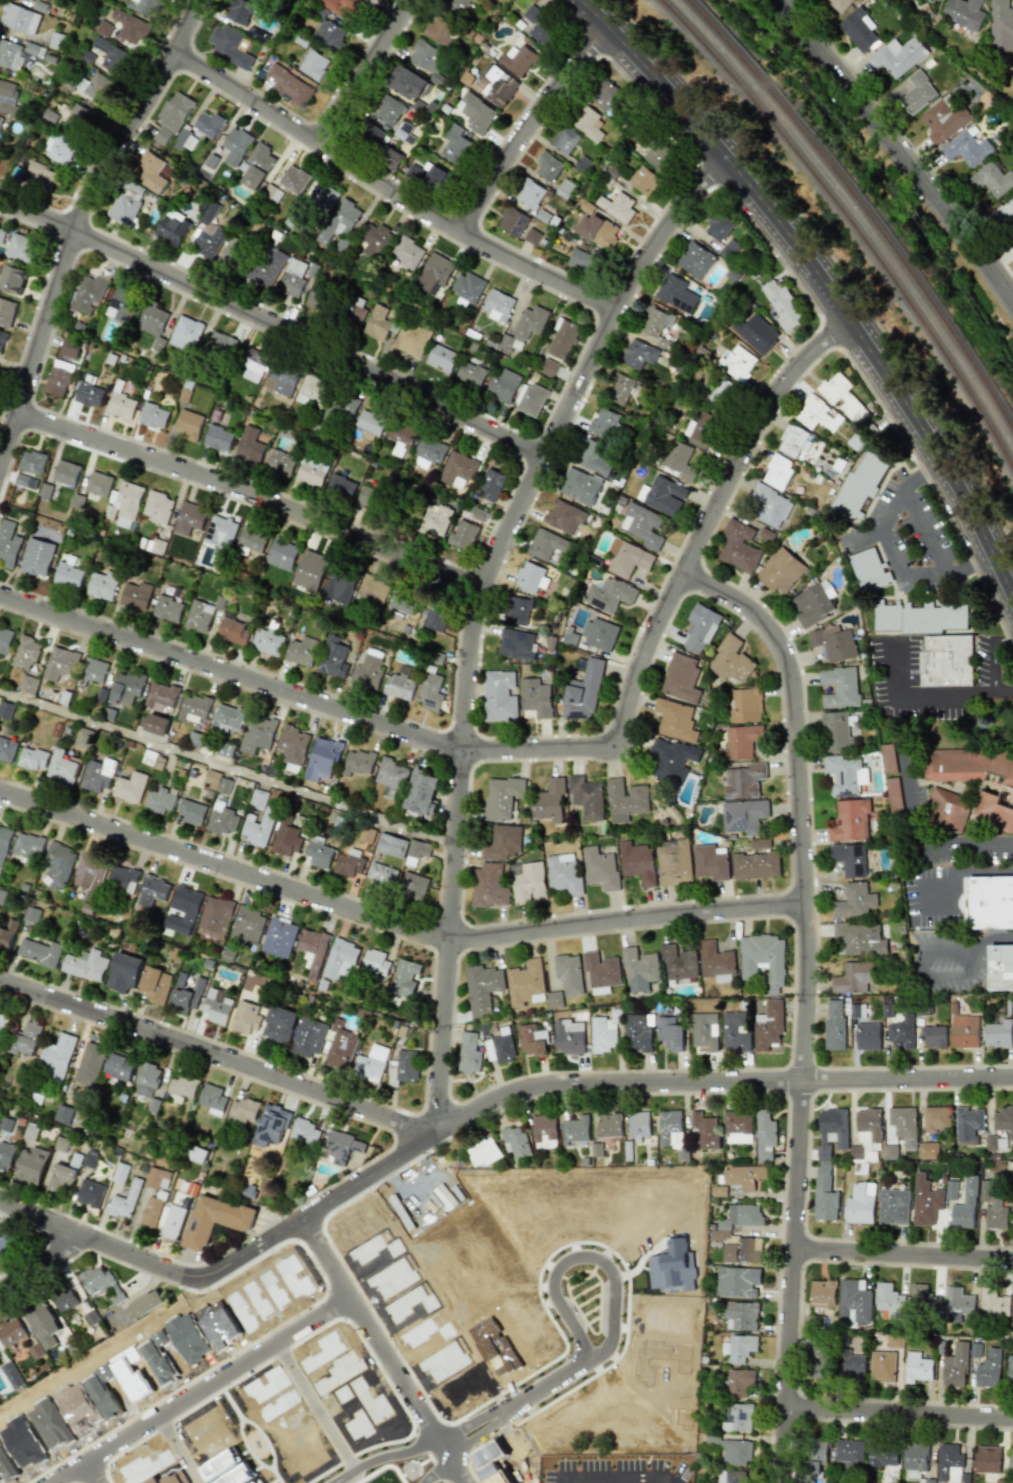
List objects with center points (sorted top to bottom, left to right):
building: (29, 0)
building: (838, 4)
building: (457, 5)
building: (340, 6)
building: (145, 7)
building: (242, 11)
building: (963, 12)
building: (1000, 15)
building: (19, 18)
building: (539, 25)
building: (130, 27)
building: (858, 28)
building: (439, 29)
building: (328, 34)
building: (229, 46)
building: (15, 54)
building: (112, 56)
building: (427, 56)
building: (897, 56)
building: (517, 60)
building: (313, 65)
road: (363, 71)
building: (407, 83)
building: (289, 86)
building: (500, 86)
building: (96, 87)
building: (916, 92)
building: (605, 95)
building: (7, 97)
building: (388, 110)
building: (476, 113)
building: (171, 117)
building: (76, 118)
building: (943, 118)
building: (0, 119)
building: (208, 124)
building: (588, 124)
road: (528, 127)
building: (402, 131)
building: (371, 135)
building: (181, 139)
building: (565, 140)
building: (236, 145)
building: (455, 145)
building: (59, 148)
building: (965, 148)
road: (897, 149)
building: (658, 156)
building: (390, 158)
building: (257, 166)
building: (548, 166)
building: (149, 172)
building: (42, 174)
building: (430, 176)
building: (293, 179)
building: (991, 179)
building: (643, 180)
railway: (873, 183)
road: (388, 189)
building: (530, 194)
building: (324, 196)
building: (127, 204)
railway: (862, 205)
building: (617, 206)
building: (1004, 212)
building: (339, 221)
building: (513, 221)
railway: (854, 221)
road: (82, 222)
building: (717, 225)
building: (170, 231)
building: (605, 234)
building: (533, 236)
building: (375, 241)
building: (211, 242)
building: (20, 248)
building: (407, 252)
building: (234, 253)
building: (585, 260)
building: (695, 260)
building: (438, 268)
building: (265, 270)
building: (292, 278)
building: (12, 279)
road: (825, 283)
building: (467, 287)
building: (676, 293)
building: (88, 296)
building: (318, 298)
building: (121, 304)
building: (782, 304)
building: (497, 305)
building: (6, 311)
building: (356, 314)
building: (152, 319)
building: (654, 322)
building: (377, 323)
road: (273, 325)
building: (529, 325)
building: (185, 332)
building: (412, 338)
building: (760, 338)
building: (2, 339)
building: (562, 339)
building: (220, 344)
building: (69, 348)
building: (638, 354)
building: (441, 358)
road: (587, 362)
building: (736, 364)
building: (253, 366)
building: (548, 367)
building: (470, 374)
building: (58, 378)
building: (281, 380)
building: (503, 386)
building: (311, 389)
building: (619, 389)
building: (89, 392)
building: (720, 393)
building: (842, 398)
building: (530, 399)
building: (121, 406)
building: (342, 408)
building: (817, 415)
building: (153, 416)
building: (370, 422)
building: (603, 423)
building: (189, 424)
building: (701, 428)
building: (400, 437)
building: (218, 438)
building: (793, 441)
building: (249, 446)
building: (429, 451)
building: (594, 458)
building: (679, 461)
building: (32, 462)
building: (281, 462)
building: (312, 470)
building: (457, 470)
building: (66, 472)
building: (777, 472)
building: (26, 480)
building: (98, 484)
building: (490, 485)
building: (860, 485)
building: (579, 486)
building: (340, 487)
road: (251, 493)
building: (662, 495)
building: (368, 497)
building: (769, 506)
building: (158, 507)
building: (563, 516)
building: (188, 518)
road: (709, 518)
building: (436, 520)
building: (643, 525)
road: (928, 530)
building: (221, 531)
building: (464, 535)
building: (252, 538)
building: (9, 543)
building: (549, 546)
building: (739, 546)
building: (155, 547)
building: (281, 554)
road: (889, 554)
building: (38, 557)
building: (628, 558)
building: (310, 570)
building: (869, 570)
building: (780, 571)
building: (68, 572)
building: (531, 577)
building: (103, 585)
building: (339, 585)
building: (371, 590)
building: (609, 594)
building: (136, 595)
building: (403, 600)
building: (812, 603)
building: (168, 608)
building: (518, 611)
building: (199, 616)
building: (918, 617)
building: (435, 618)
building: (700, 629)
building: (234, 632)
building: (600, 634)
building: (6, 640)
building: (267, 642)
building: (833, 642)
building: (517, 644)
building: (302, 651)
building: (27, 652)
building: (333, 658)
building: (731, 660)
building: (945, 661)
building: (61, 663)
road: (467, 666)
building: (95, 670)
building: (369, 670)
road: (229, 671)
parking lot: (892, 671)
building: (682, 678)
building: (29, 684)
building: (400, 684)
building: (127, 687)
building: (840, 687)
building: (429, 692)
building: (584, 692)
road: (960, 694)
building: (161, 696)
building: (499, 696)
building: (536, 697)
building: (745, 705)
building: (194, 708)
building: (7, 710)
building: (227, 718)
building: (676, 720)
building: (156, 724)
building: (836, 732)
building: (258, 734)
building: (84, 738)
building: (742, 741)
building: (292, 744)
building: (8, 749)
road: (538, 749)
building: (34, 759)
building: (322, 759)
building: (888, 759)
building: (357, 762)
building: (667, 763)
road: (226, 766)
building: (971, 767)
building: (391, 774)
building: (845, 774)
building: (98, 775)
building: (744, 780)
building: (217, 781)
building: (131, 788)
building: (421, 792)
building: (502, 797)
building: (587, 797)
building: (258, 799)
building: (626, 800)
building: (159, 801)
building: (549, 801)
building: (948, 810)
building: (992, 810)
building: (192, 812)
building: (744, 816)
building: (849, 820)
building: (223, 821)
building: (258, 826)
building: (366, 834)
building: (286, 836)
building: (4, 842)
building: (503, 842)
building: (760, 843)
building: (391, 845)
building: (28, 846)
road: (922, 849)
building: (416, 851)
building: (318, 852)
building: (849, 859)
building: (674, 861)
building: (638, 862)
building: (710, 862)
building: (60, 864)
building: (349, 864)
building: (755, 865)
building: (600, 868)
road: (981, 871)
building: (563, 873)
building: (381, 874)
building: (91, 876)
building: (123, 879)
building: (528, 883)
building: (488, 886)
building: (413, 887)
building: (153, 890)
parking lot: (931, 895)
building: (854, 901)
building: (990, 902)
building: (183, 910)
road: (394, 921)
building: (248, 925)
building: (8, 934)
building: (279, 937)
building: (859, 938)
road: (993, 938)
building: (313, 950)
building: (40, 952)
building: (341, 960)
building: (763, 960)
building: (375, 962)
building: (716, 962)
parking lot: (948, 962)
building: (679, 963)
building: (86, 965)
building: (1001, 968)
building: (640, 969)
road: (930, 969)
building: (601, 970)
building: (124, 972)
building: (569, 974)
building: (405, 977)
building: (854, 977)
building: (526, 983)
building: (155, 985)
building: (482, 988)
building: (186, 997)
building: (554, 999)
road: (803, 1001)
building: (216, 1006)
building: (857, 1010)
building: (245, 1018)
building: (3, 1024)
building: (279, 1025)
building: (768, 1026)
building: (834, 1026)
building: (639, 1031)
building: (705, 1031)
building: (735, 1031)
building: (965, 1031)
building: (669, 1033)
building: (998, 1034)
building: (602, 1035)
building: (901, 1035)
building: (868, 1036)
building: (568, 1037)
building: (934, 1037)
building: (308, 1038)
building: (26, 1039)
building: (532, 1040)
building: (341, 1047)
building: (500, 1047)
building: (469, 1053)
building: (56, 1057)
building: (89, 1064)
building: (371, 1064)
building: (119, 1066)
building: (403, 1067)
building: (147, 1079)
road: (438, 1080)
building: (183, 1086)
building: (212, 1098)
road: (489, 1100)
building: (242, 1110)
building: (63, 1114)
building: (937, 1118)
building: (1003, 1121)
building: (904, 1124)
building: (270, 1125)
building: (968, 1125)
building: (638, 1126)
building: (737, 1126)
building: (575, 1129)
building: (705, 1130)
building: (544, 1131)
building: (673, 1131)
building: (831, 1131)
building: (30, 1132)
building: (304, 1132)
building: (607, 1133)
building: (764, 1135)
building: (866, 1135)
building: (515, 1142)
building: (61, 1144)
building: (343, 1147)
building: (927, 1150)
building: (482, 1152)
building: (6, 1155)
building: (90, 1160)
building: (31, 1166)
building: (860, 1167)
building: (120, 1173)
building: (743, 1176)
building: (61, 1178)
building: (157, 1178)
building: (950, 1190)
building: (90, 1193)
building: (825, 1195)
building: (125, 1201)
building: (925, 1201)
building: (860, 1203)
building: (893, 1206)
building: (965, 1206)
building: (993, 1206)
building: (151, 1211)
building: (176, 1215)
road: (39, 1219)
building: (215, 1220)
building: (737, 1220)
building: (1012, 1227)
building: (5, 1239)
building: (743, 1251)
road: (901, 1254)
road: (136, 1258)
road: (39, 1260)
building: (100, 1281)
building: (738, 1282)
building: (822, 1294)
building: (923, 1298)
building: (65, 1300)
building: (890, 1301)
building: (854, 1302)
building: (993, 1303)
building: (957, 1304)
building: (143, 1305)
building: (741, 1315)
road: (610, 1324)
building: (42, 1325)
building: (11, 1331)
building: (894, 1341)
building: (740, 1348)
building: (975, 1350)
road: (380, 1352)
building: (818, 1362)
building: (0, 1364)
building: (851, 1365)
building: (882, 1366)
building: (955, 1366)
building: (917, 1367)
building: (988, 1369)
building: (1009, 1371)
building: (11, 1375)
building: (740, 1382)
road: (199, 1391)
road: (314, 1408)
road: (898, 1412)
building: (738, 1418)
road: (176, 1450)
building: (849, 1450)
building: (736, 1452)
building: (882, 1455)
building: (815, 1458)
road: (384, 1459)
building: (915, 1459)
building: (987, 1459)
building: (1011, 1461)
building: (949, 1464)
road: (436, 1471)
road: (90, 1473)
building: (733, 1476)

